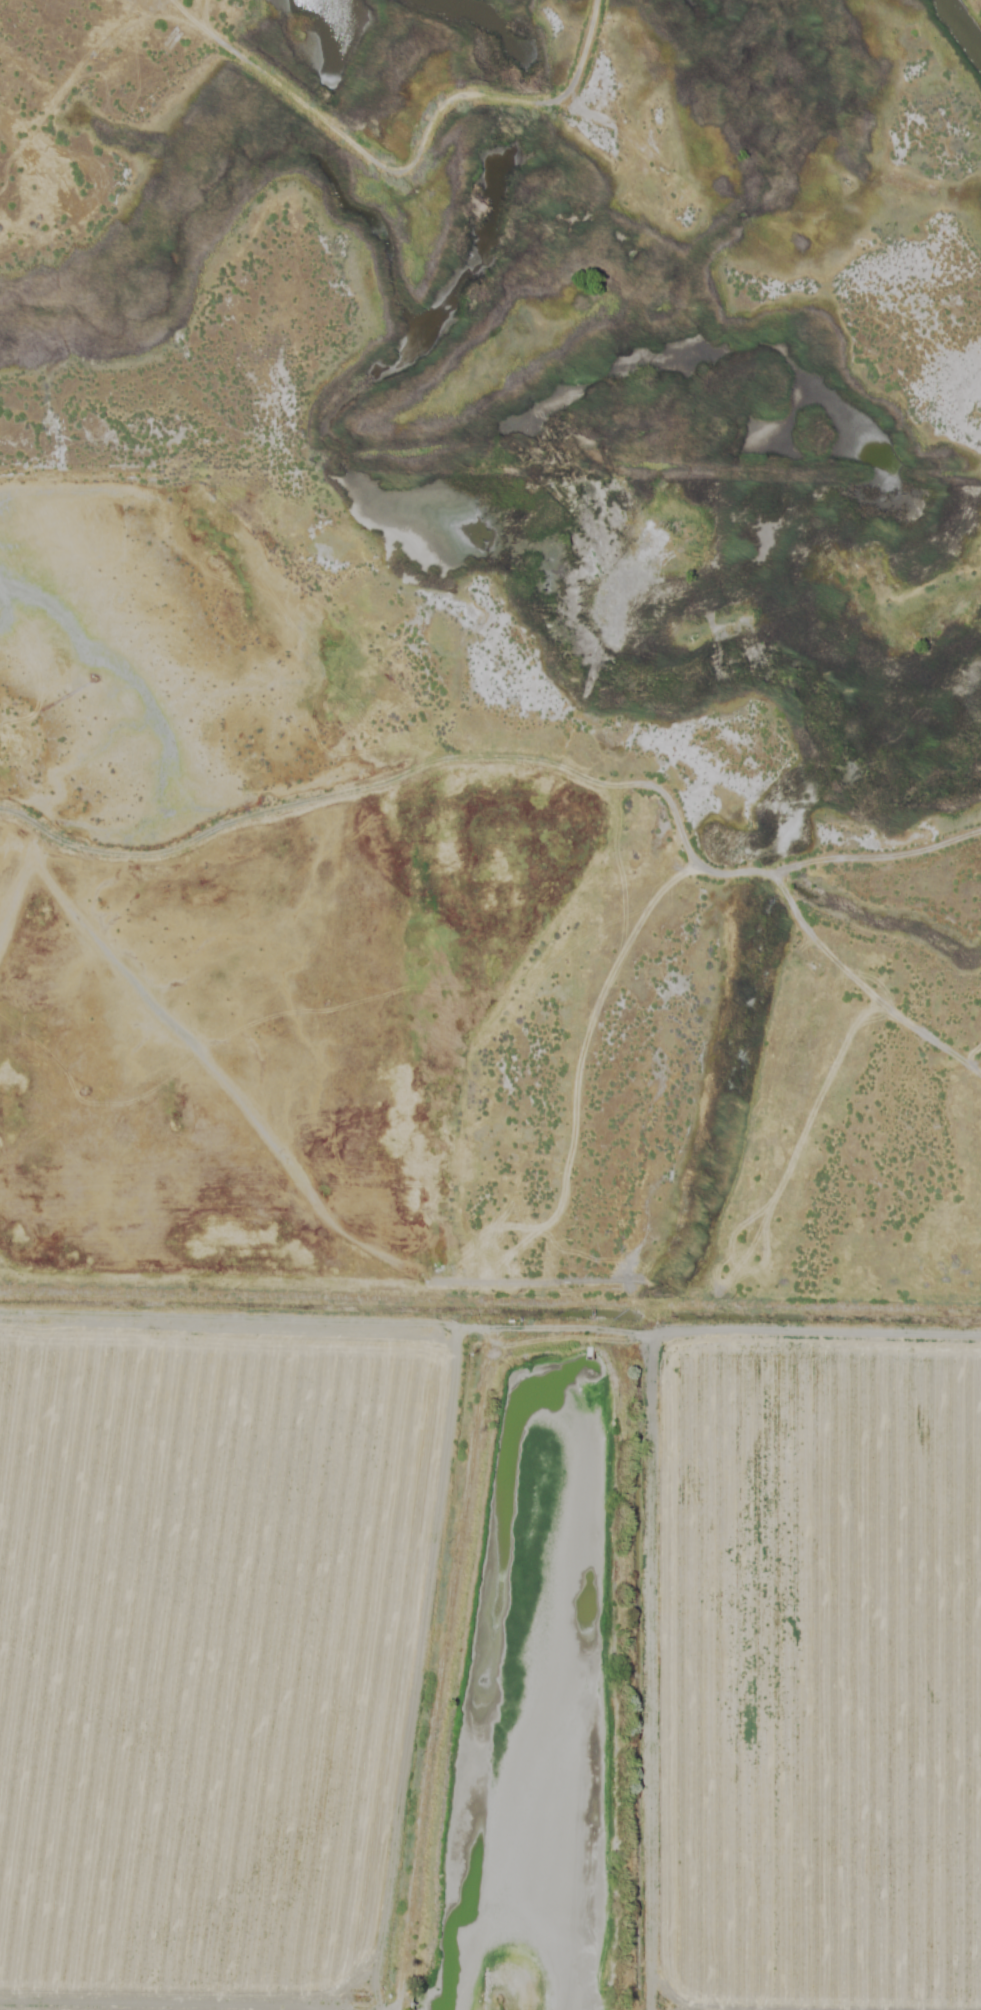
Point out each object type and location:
road: (490, 1328)
crop: (210, 1634)
crop: (811, 1659)

